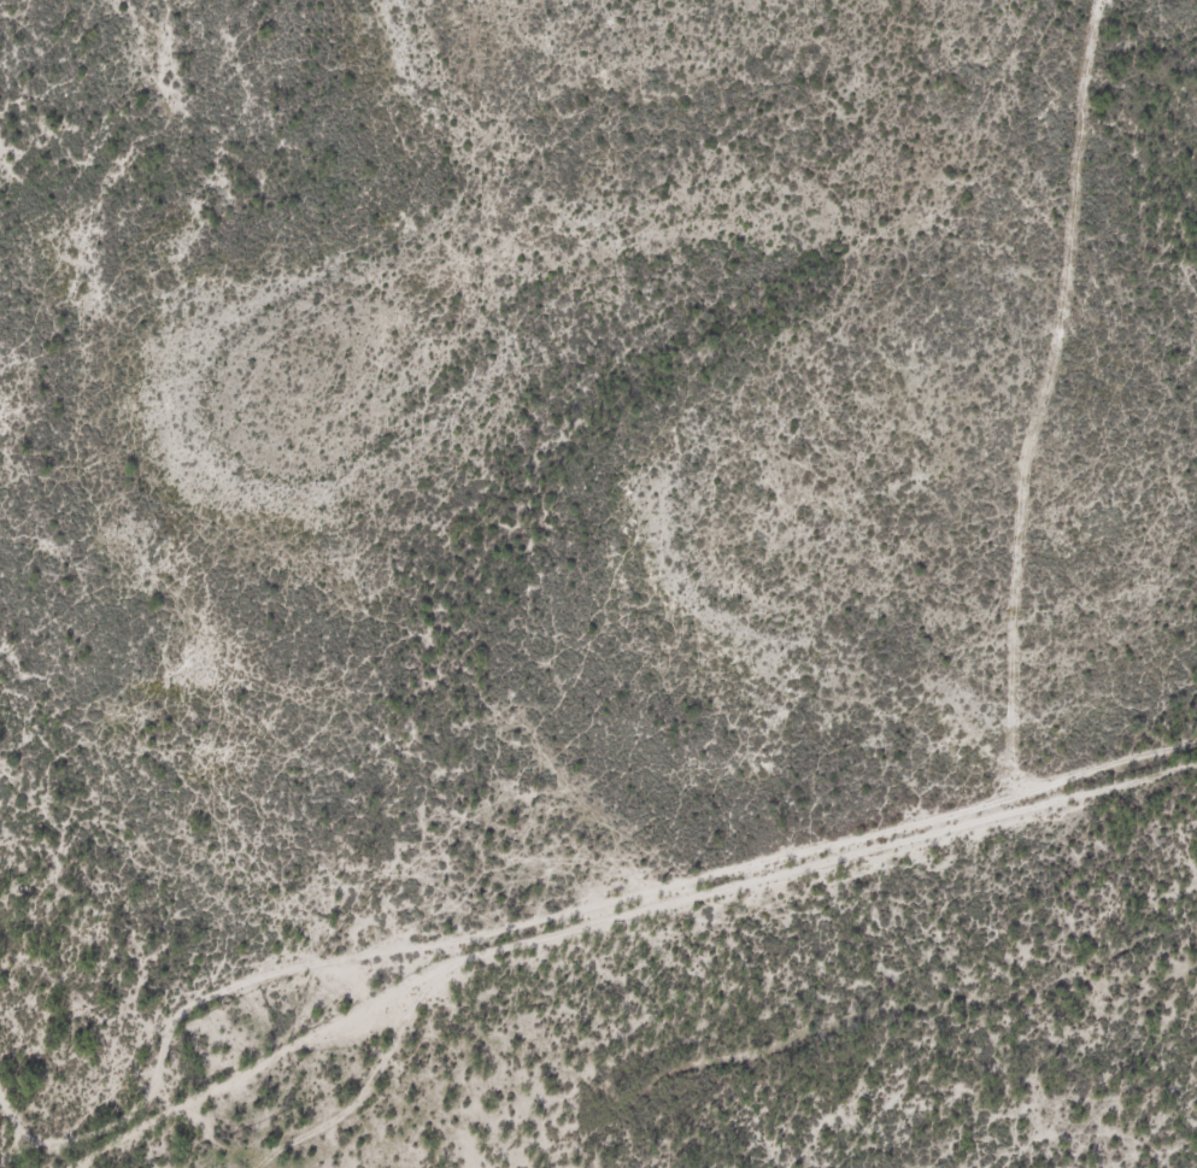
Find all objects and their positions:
road: (14, 1129)
road: (282, 1167)

